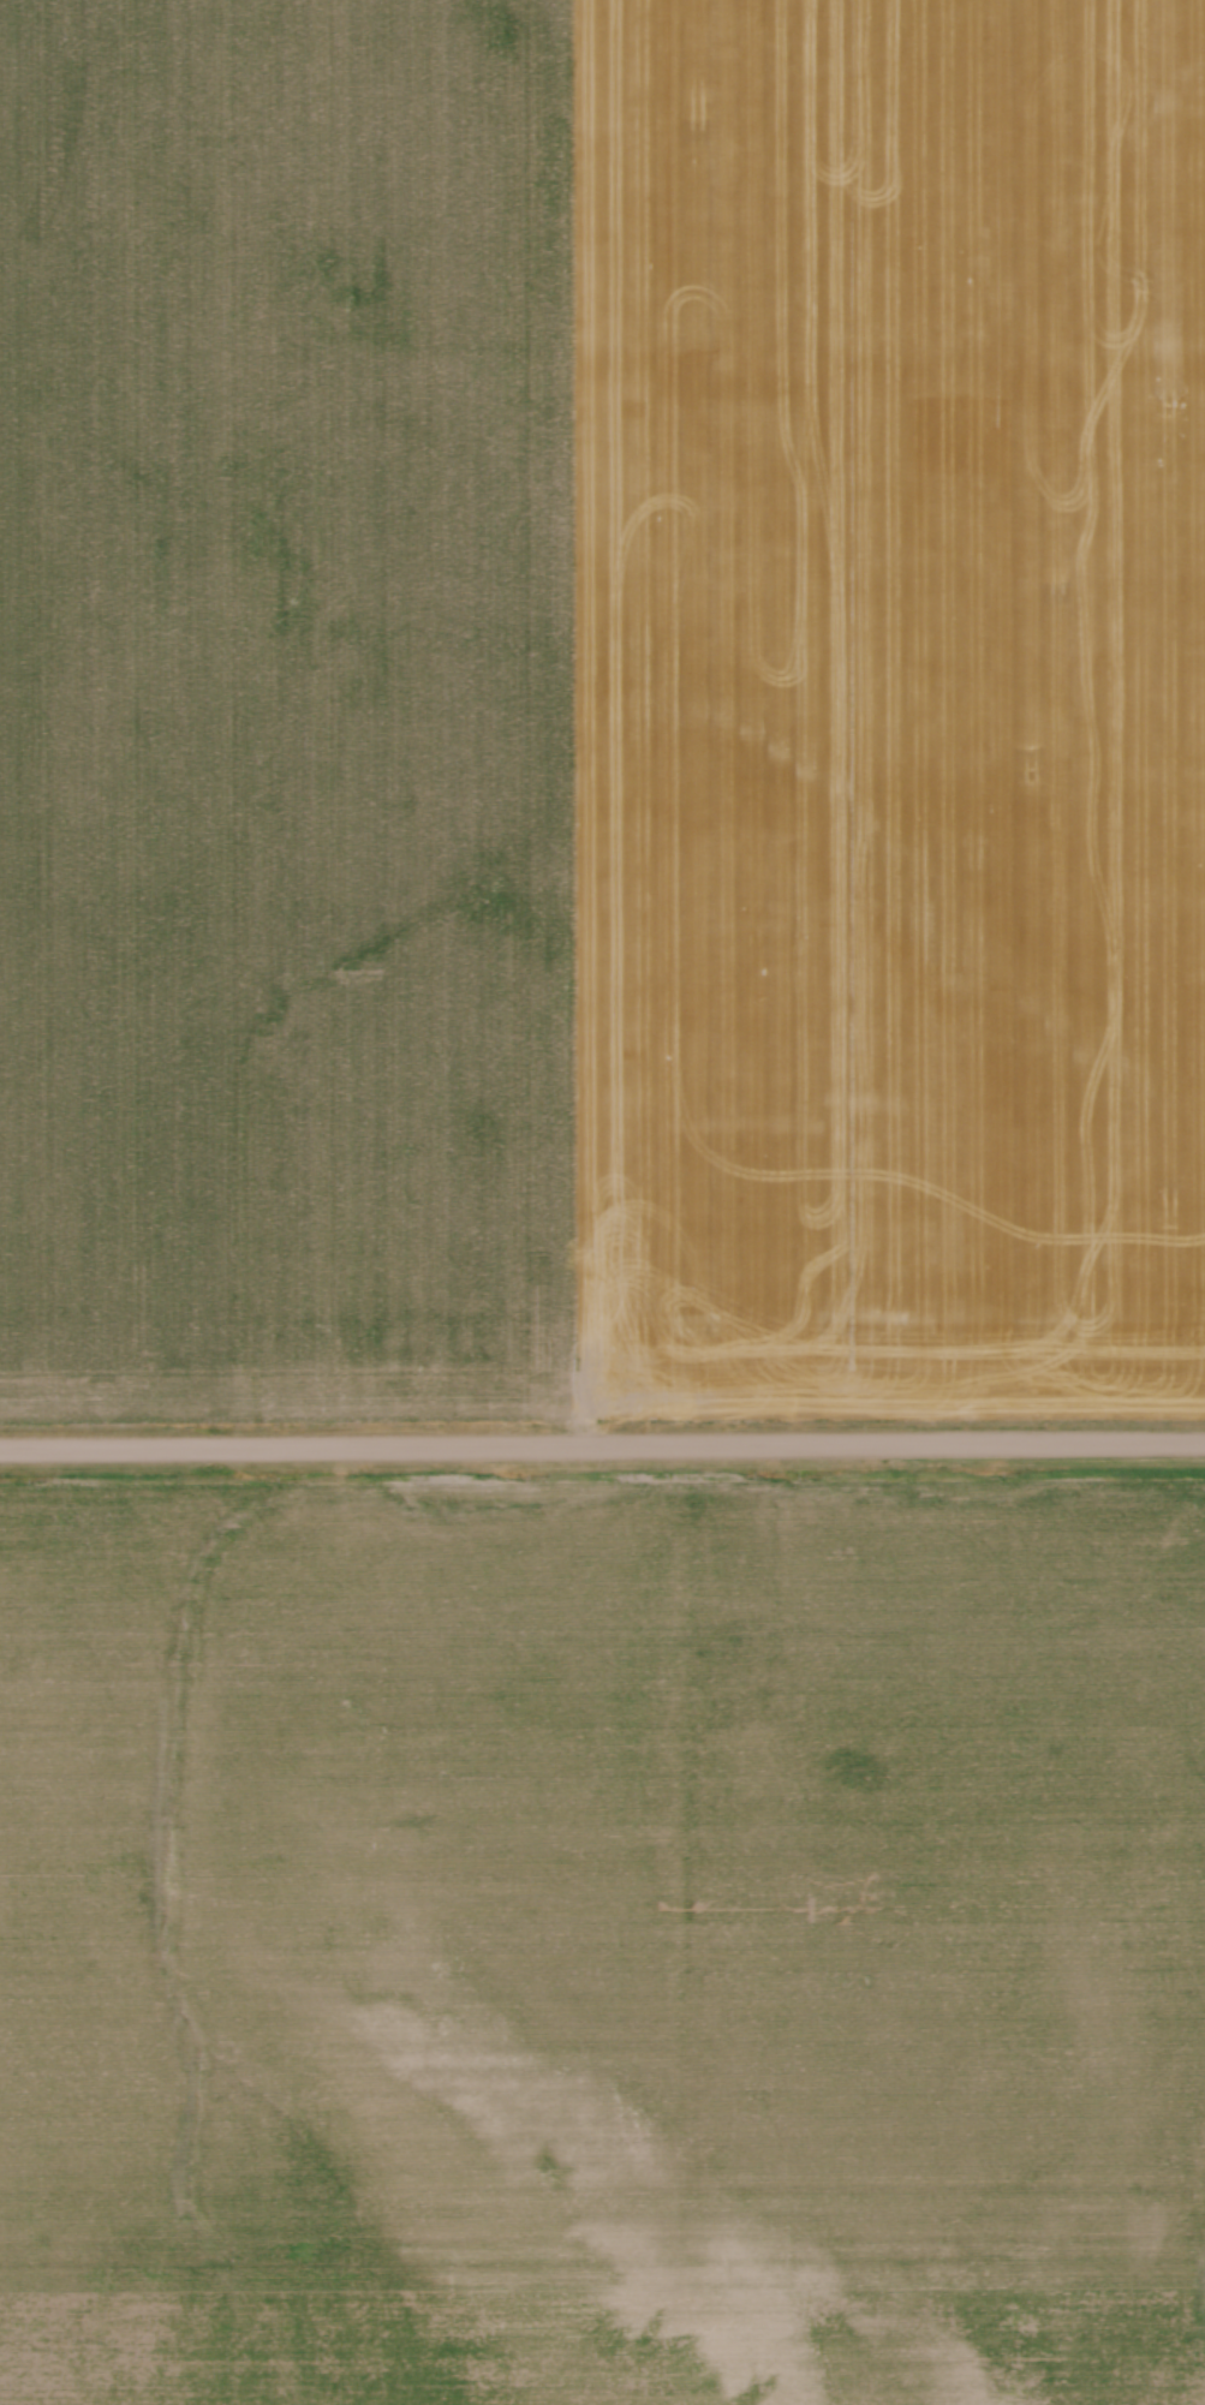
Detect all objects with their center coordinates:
road: (602, 1445)

